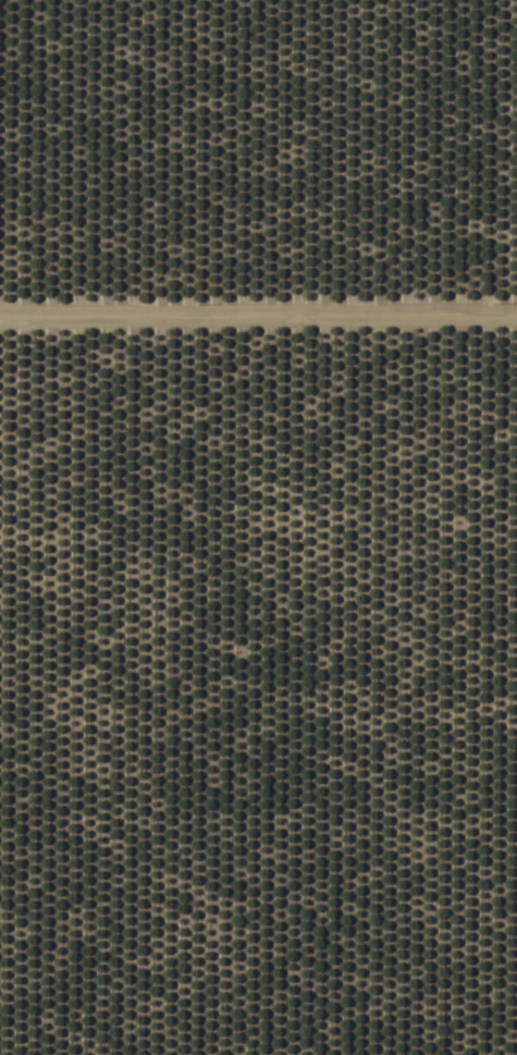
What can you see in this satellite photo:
road: (258, 310)

